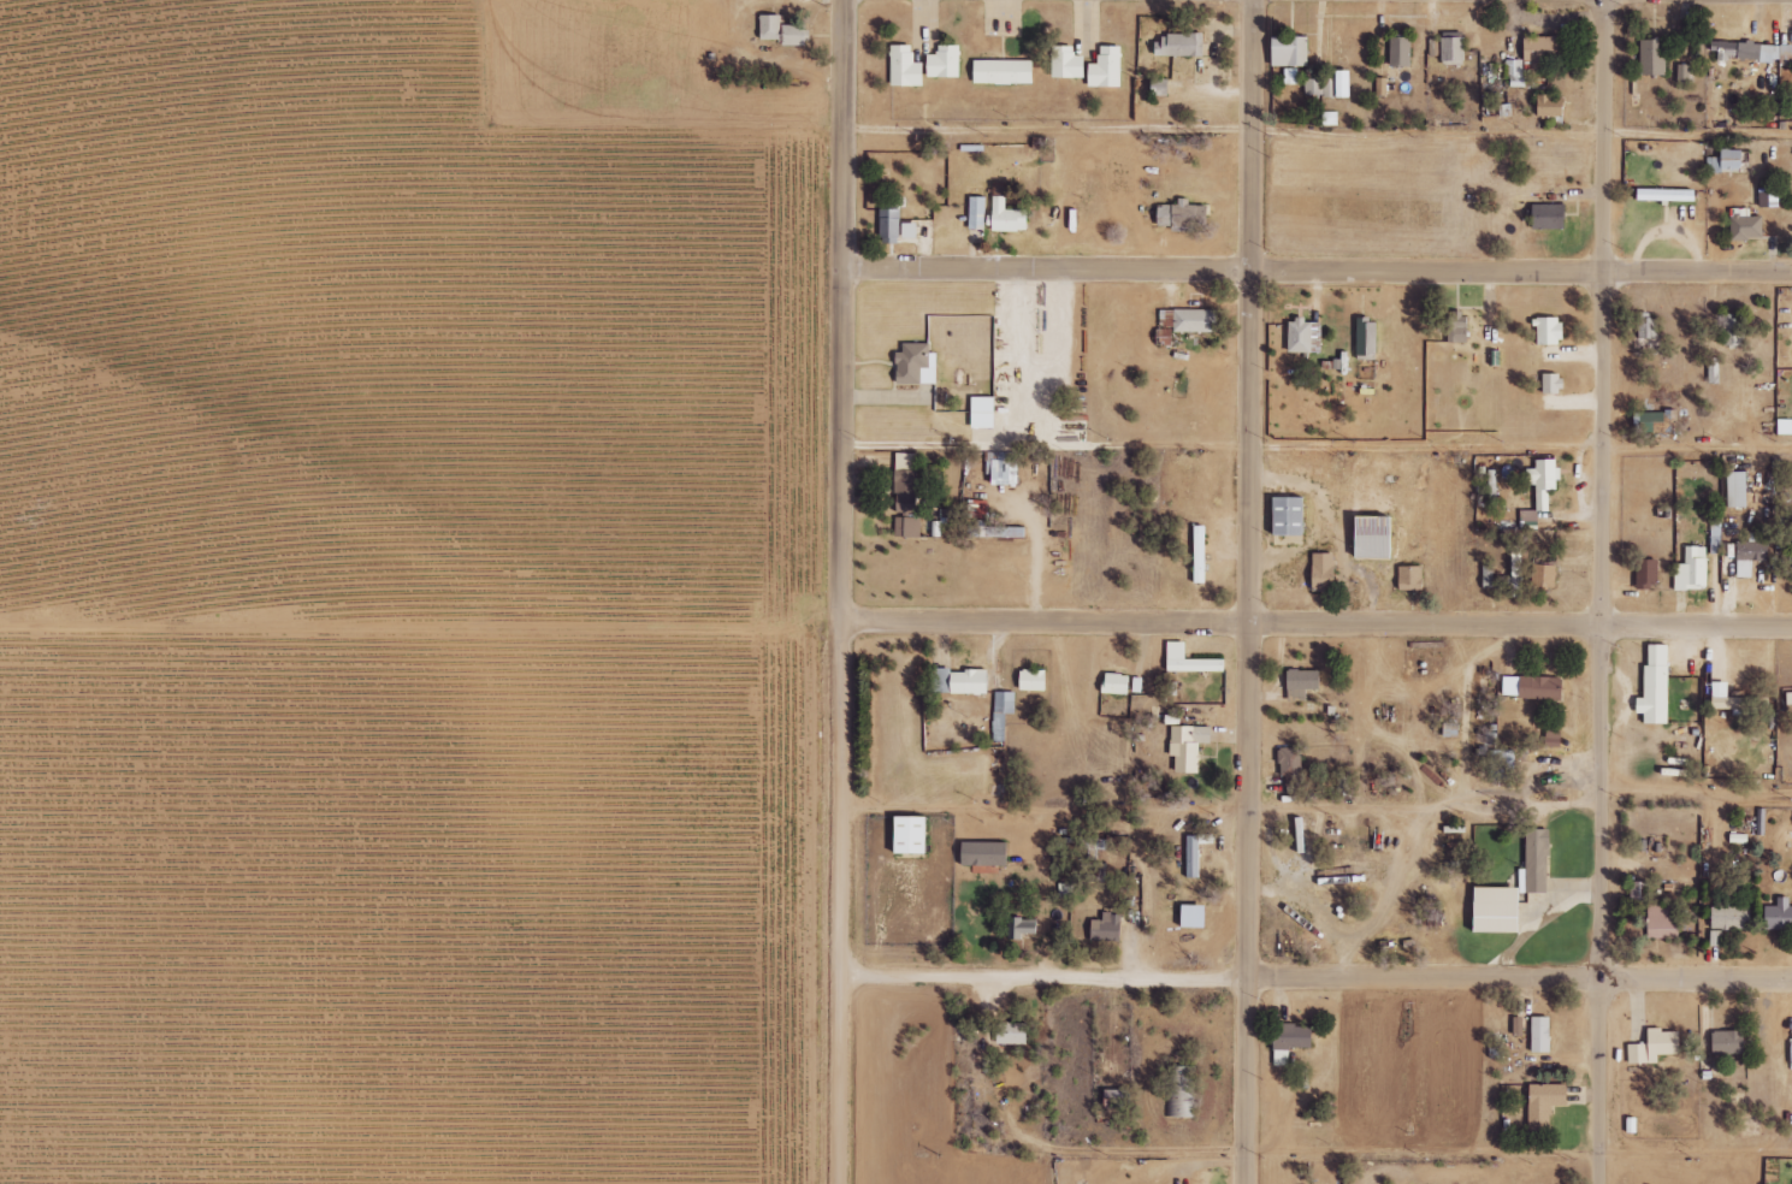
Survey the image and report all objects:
building: (770, 28)
building: (793, 36)
building: (1178, 46)
building: (1435, 47)
building: (1454, 49)
building: (1290, 52)
building: (1401, 52)
building: (1544, 52)
building: (1756, 52)
building: (1652, 58)
building: (945, 63)
building: (1067, 63)
building: (906, 67)
building: (1107, 69)
building: (1004, 72)
building: (1684, 75)
building: (1291, 76)
building: (1492, 79)
building: (1344, 84)
building: (1382, 87)
building: (1319, 88)
building: (1551, 106)
road: (1319, 136)
building: (1727, 161)
building: (1667, 195)
building: (1769, 199)
building: (977, 213)
building: (939, 217)
building: (987, 217)
building: (1549, 217)
building: (1194, 219)
building: (1016, 220)
building: (1746, 225)
building: (889, 226)
building: (900, 227)
road: (1318, 273)
building: (1196, 325)
building: (1646, 326)
building: (1459, 327)
building: (1549, 330)
building: (1734, 330)
building: (1303, 333)
building: (1367, 336)
building: (1648, 342)
building: (925, 368)
building: (1714, 369)
building: (1553, 381)
building: (993, 416)
building: (1654, 421)
road: (1317, 451)
building: (1003, 470)
building: (1544, 480)
building: (1489, 487)
building: (1737, 489)
building: (907, 493)
building: (978, 508)
building: (1291, 515)
building: (1528, 519)
building: (935, 528)
building: (995, 531)
building: (1377, 535)
building: (1715, 535)
building: (1200, 553)
building: (1750, 556)
building: (1324, 569)
building: (1692, 569)
building: (1516, 570)
building: (1648, 573)
building: (1545, 574)
building: (1409, 578)
road: (841, 591)
road: (1250, 592)
road: (1602, 592)
road: (1317, 624)
building: (1190, 659)
building: (1034, 680)
building: (960, 681)
building: (1302, 681)
building: (1117, 682)
building: (1656, 685)
building: (1533, 686)
building: (1728, 698)
building: (1790, 701)
building: (1003, 712)
building: (1450, 729)
building: (1554, 736)
building: (1188, 746)
building: (1500, 760)
building: (1291, 769)
building: (913, 834)
building: (1090, 848)
building: (1193, 856)
building: (1515, 887)
building: (1780, 914)
building: (1664, 920)
building: (1727, 922)
building: (1022, 927)
building: (1107, 928)
road: (1315, 978)
building: (1518, 1025)
building: (1012, 1032)
building: (1542, 1034)
building: (1291, 1041)
building: (1663, 1042)
building: (1729, 1042)
building: (1638, 1053)
building: (1179, 1090)
building: (1118, 1097)
building: (1545, 1103)
building: (1632, 1124)
road: (1519, 1158)

